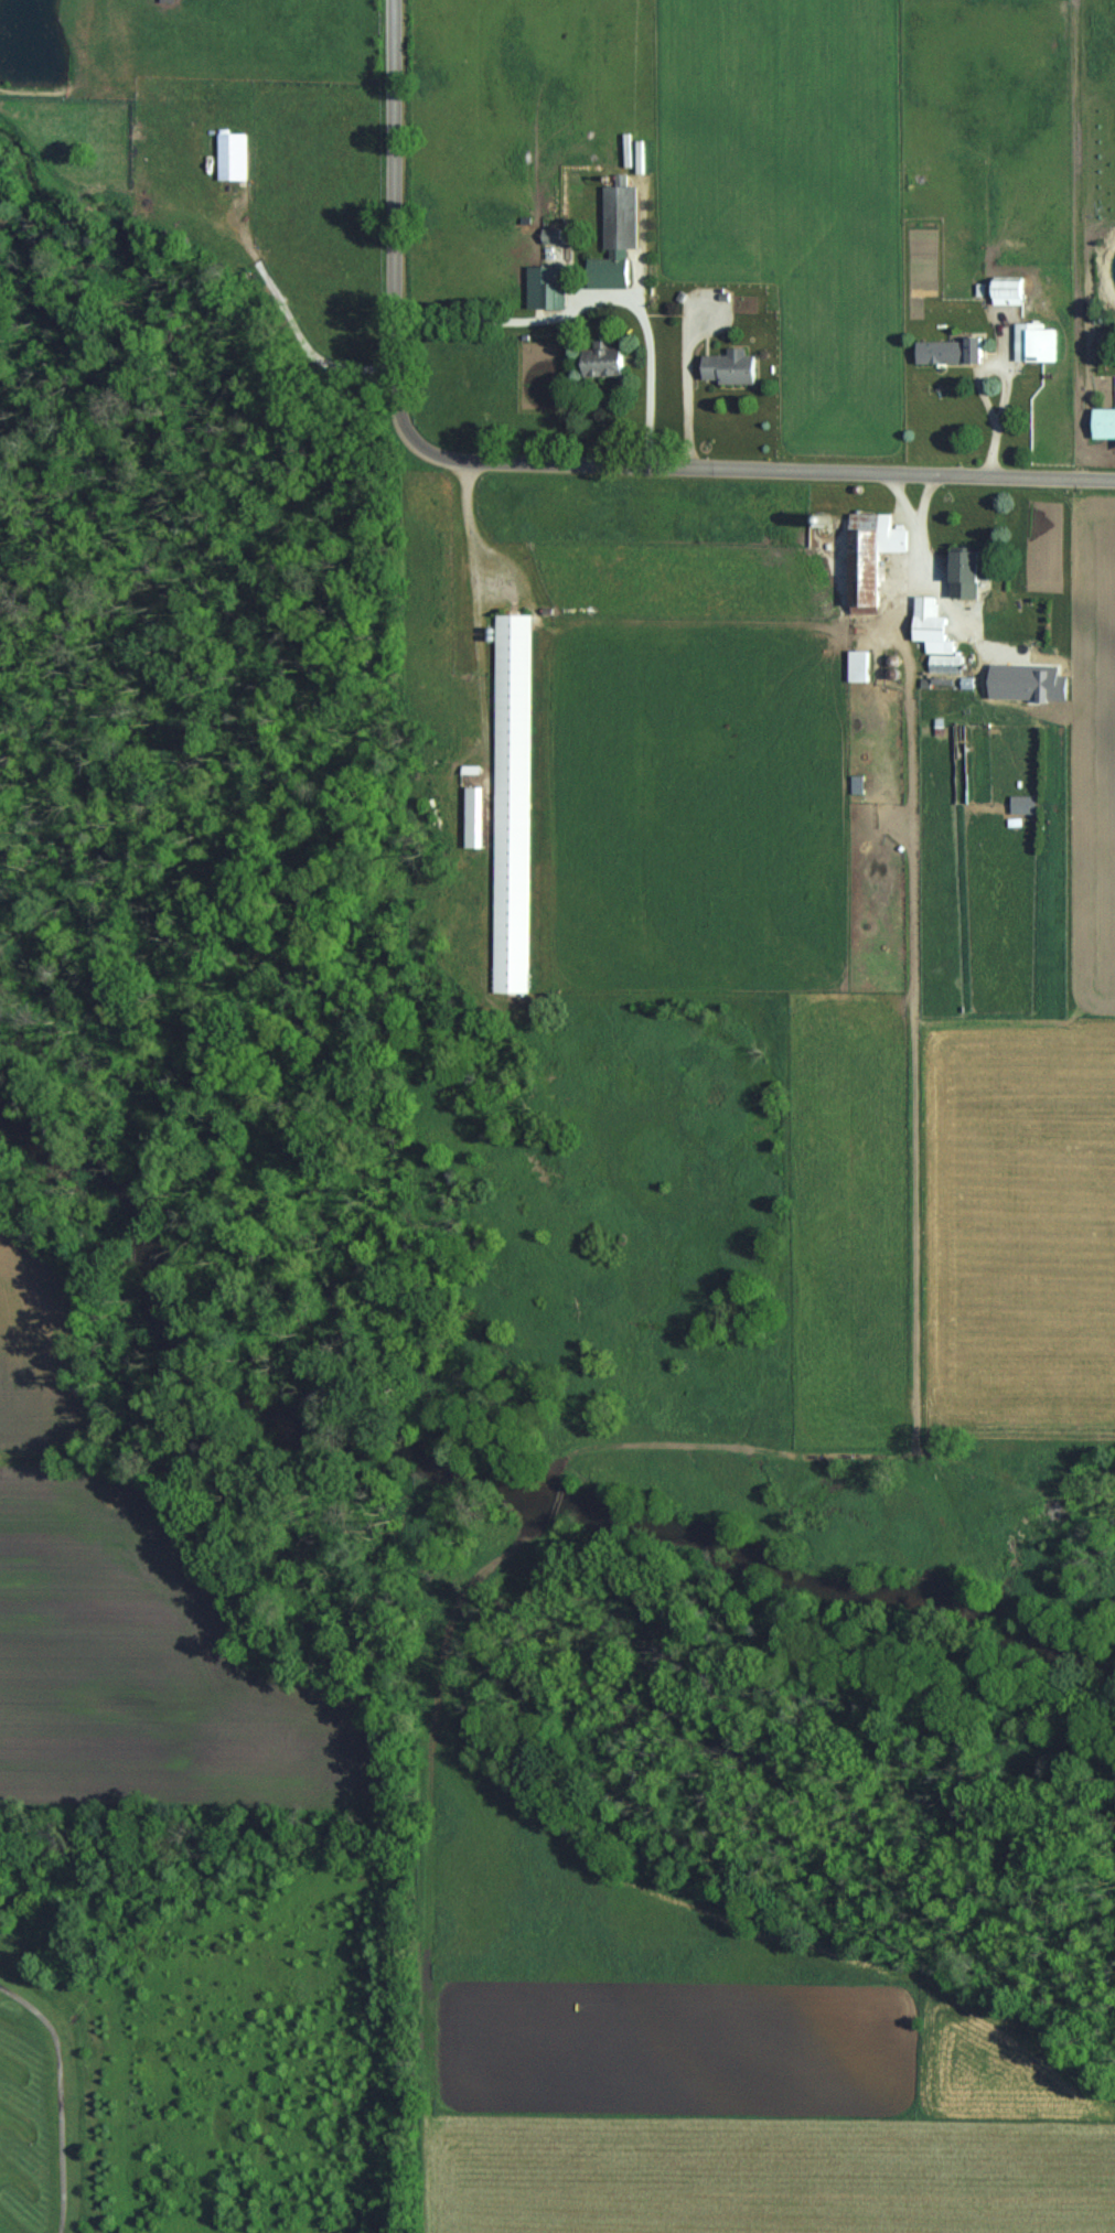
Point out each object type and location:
building: (232, 147)
building: (617, 235)
building: (546, 286)
building: (1009, 289)
road: (592, 294)
building: (1034, 341)
building: (950, 348)
building: (604, 359)
building: (731, 366)
building: (1104, 421)
road: (539, 464)
building: (871, 554)
building: (967, 570)
building: (935, 635)
building: (859, 655)
building: (1021, 662)
building: (858, 783)
building: (511, 793)
building: (475, 815)
river: (485, 1486)
park: (47, 2081)

